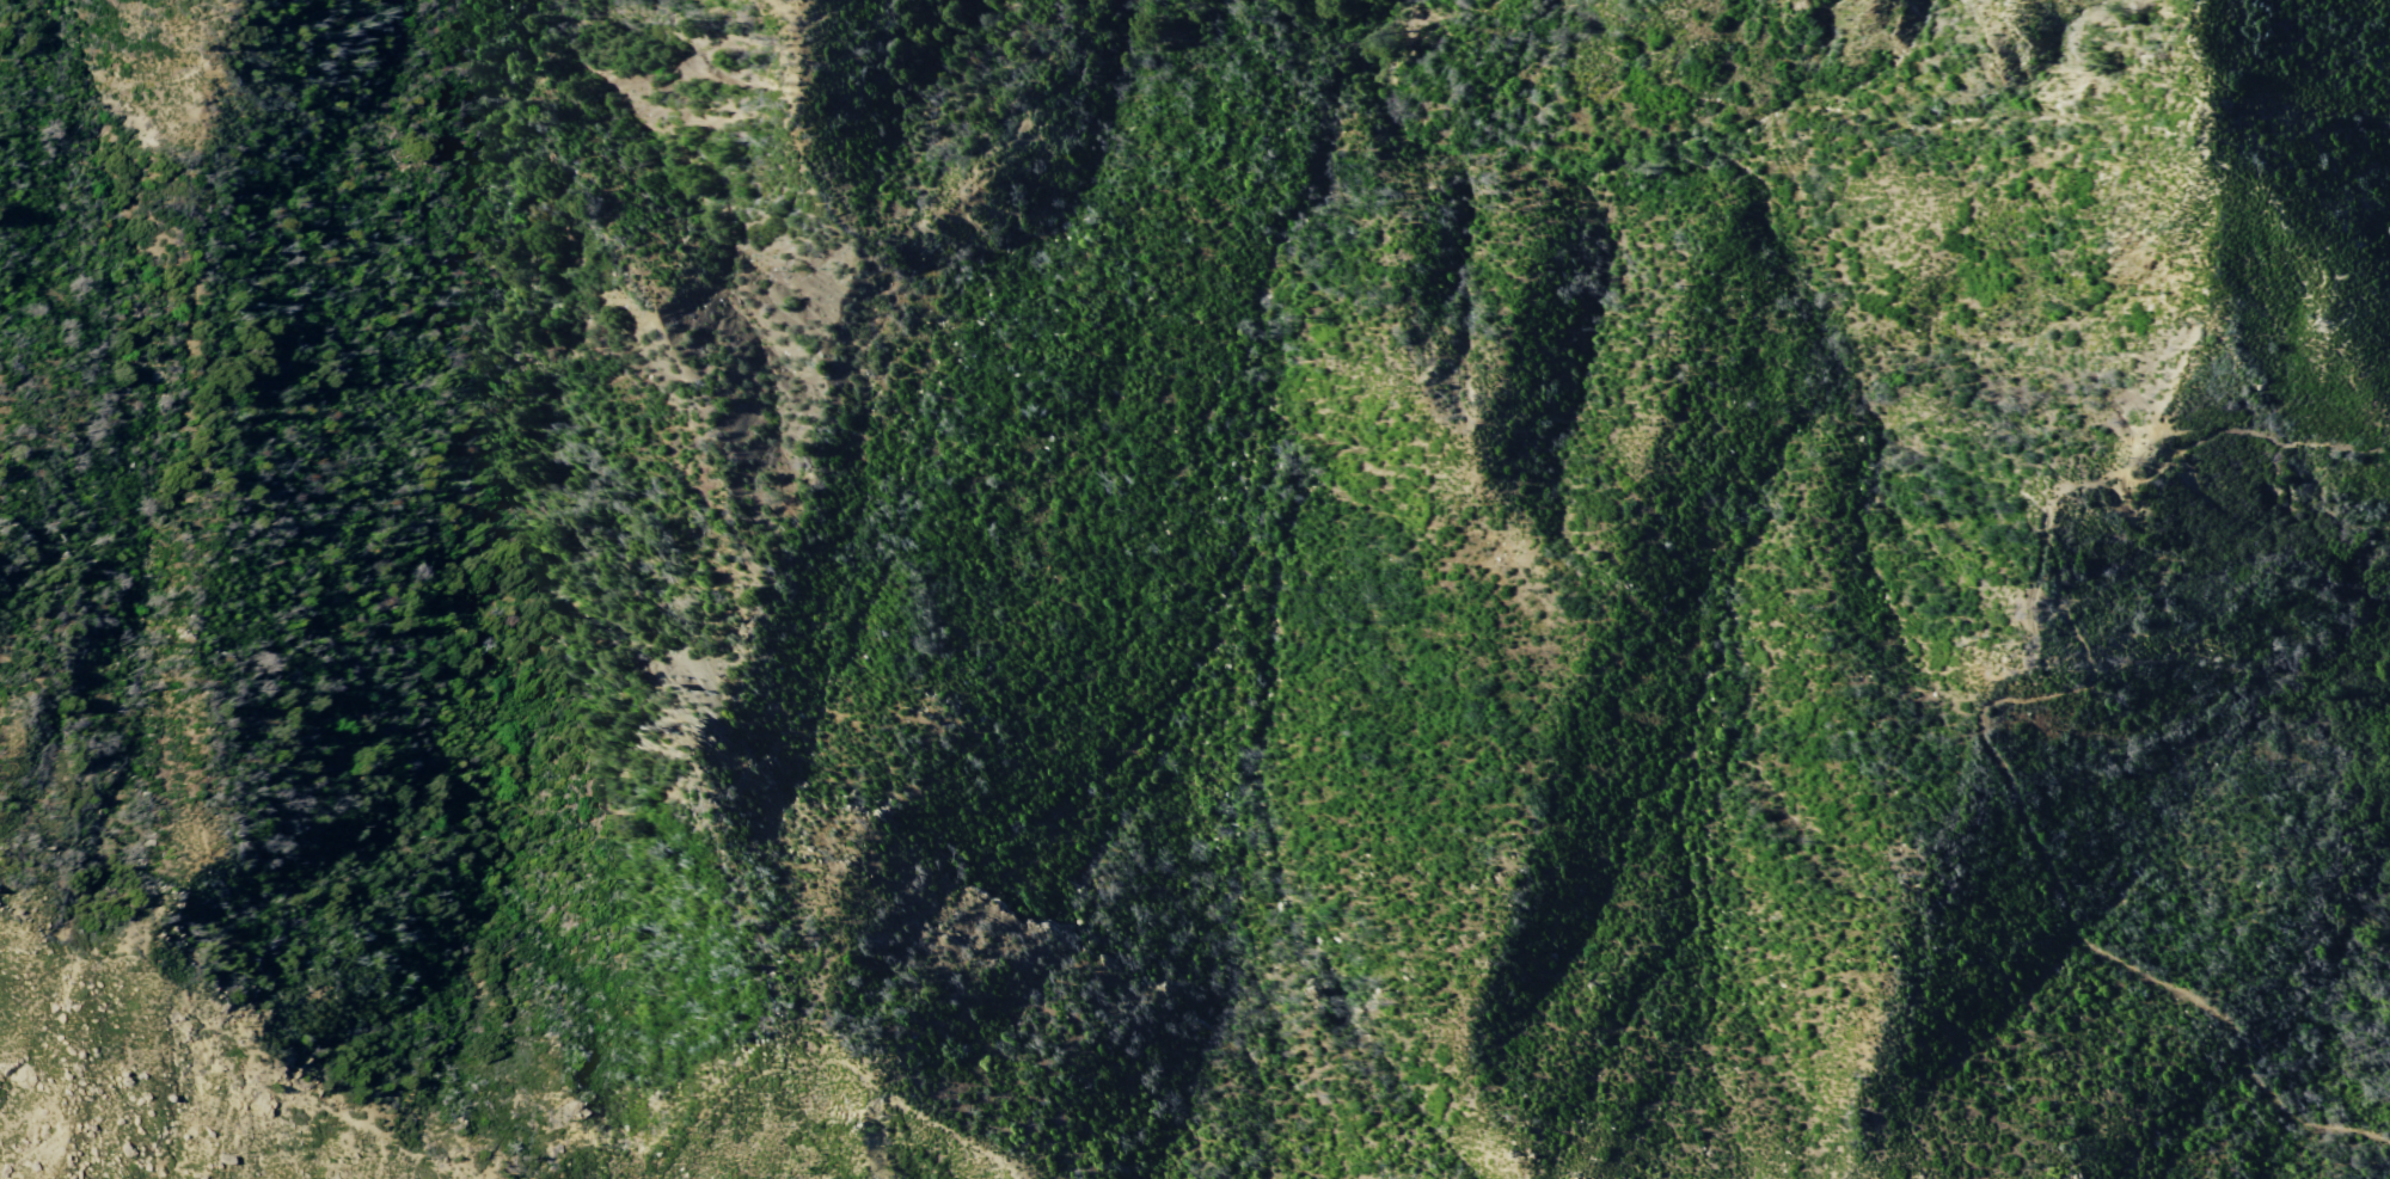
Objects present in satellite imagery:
road: (1998, 695)

